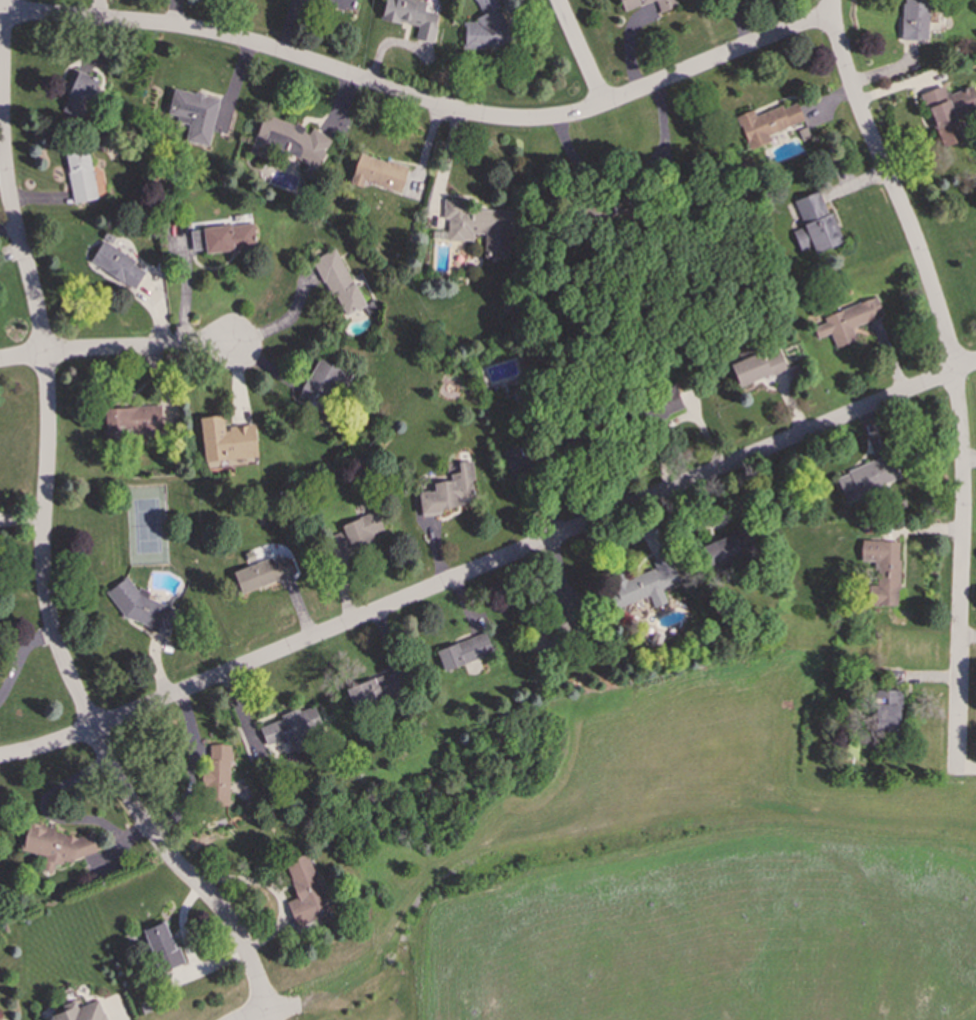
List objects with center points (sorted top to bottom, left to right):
building: (632, 3)
building: (341, 4)
building: (665, 4)
building: (411, 17)
building: (914, 19)
building: (486, 28)
road: (579, 51)
building: (78, 93)
road: (420, 100)
building: (949, 111)
building: (193, 114)
building: (766, 123)
building: (290, 142)
building: (378, 173)
building: (80, 175)
road: (631, 181)
building: (815, 224)
building: (479, 227)
building: (228, 237)
building: (196, 239)
building: (117, 265)
building: (338, 282)
building: (847, 321)
road: (280, 324)
road: (136, 348)
road: (22, 358)
building: (757, 366)
road: (952, 377)
building: (322, 383)
building: (668, 398)
building: (132, 420)
building: (227, 443)
road: (968, 459)
building: (867, 477)
building: (449, 491)
building: (356, 532)
road: (42, 534)
building: (719, 550)
road: (489, 564)
building: (882, 570)
building: (261, 573)
building: (642, 584)
building: (141, 607)
building: (464, 651)
building: (376, 688)
building: (886, 711)
building: (293, 729)
building: (217, 774)
road: (51, 816)
building: (55, 845)
building: (305, 891)
building: (162, 947)
road: (272, 1010)
building: (78, 1012)
road: (265, 1016)

